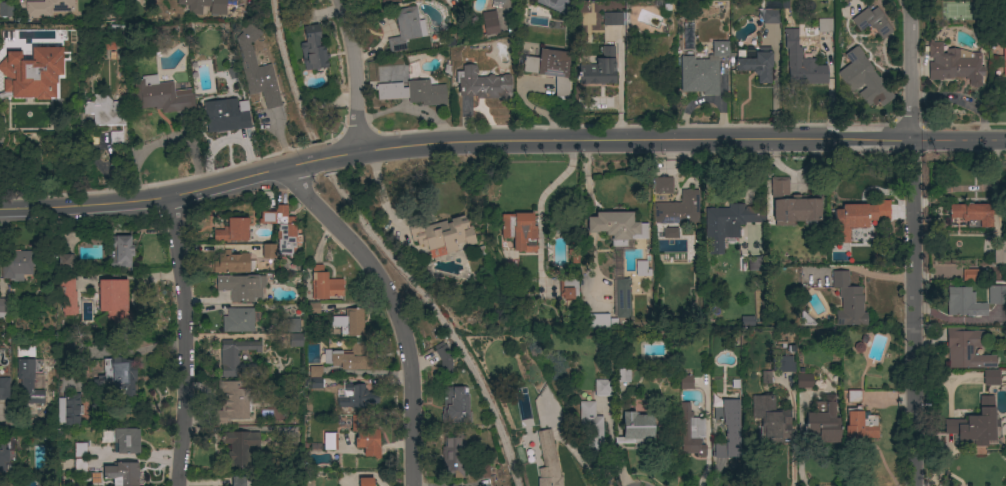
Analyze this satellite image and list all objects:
building: (389, 0)
building: (498, 1)
building: (204, 5)
building: (551, 5)
building: (47, 8)
building: (6, 9)
building: (771, 17)
building: (616, 19)
building: (872, 22)
building: (489, 23)
building: (825, 25)
building: (406, 28)
building: (688, 36)
building: (313, 49)
building: (1004, 62)
building: (801, 63)
building: (756, 64)
building: (954, 65)
building: (597, 67)
building: (549, 68)
building: (256, 69)
road: (911, 69)
building: (702, 71)
building: (31, 74)
road: (356, 74)
building: (864, 79)
building: (482, 84)
road: (620, 88)
road: (775, 88)
building: (414, 92)
building: (159, 96)
building: (103, 111)
building: (225, 116)
building: (331, 123)
road: (0, 125)
road: (499, 141)
building: (663, 185)
road: (381, 194)
building: (791, 205)
building: (678, 209)
building: (971, 214)
building: (851, 220)
building: (728, 223)
building: (617, 227)
building: (232, 230)
building: (282, 230)
building: (519, 231)
building: (670, 233)
building: (443, 234)
building: (268, 251)
building: (119, 252)
building: (999, 252)
building: (63, 261)
building: (233, 263)
building: (511, 263)
building: (754, 263)
building: (16, 264)
building: (642, 269)
building: (970, 275)
building: (324, 284)
building: (241, 287)
building: (568, 288)
building: (997, 295)
building: (67, 296)
building: (623, 298)
building: (848, 300)
building: (114, 301)
building: (963, 303)
road: (400, 307)
building: (4, 308)
road: (913, 312)
building: (805, 319)
building: (240, 320)
building: (595, 321)
building: (747, 321)
building: (350, 323)
building: (292, 325)
road: (188, 339)
building: (295, 340)
building: (966, 349)
building: (346, 358)
building: (237, 359)
building: (443, 359)
building: (784, 364)
building: (622, 375)
building: (117, 377)
building: (314, 378)
building: (764, 378)
building: (991, 378)
building: (804, 379)
building: (29, 381)
building: (686, 382)
building: (603, 388)
building: (4, 389)
building: (854, 396)
building: (356, 397)
building: (232, 402)
building: (455, 406)
building: (69, 410)
building: (771, 419)
building: (823, 421)
building: (976, 424)
building: (859, 425)
building: (590, 426)
building: (635, 428)
building: (728, 429)
building: (691, 432)
building: (365, 436)
building: (126, 441)
building: (330, 441)
building: (240, 447)
building: (3, 456)
building: (452, 457)
building: (80, 458)
building: (547, 461)
building: (481, 471)
building: (122, 474)
building: (238, 480)
building: (366, 482)

